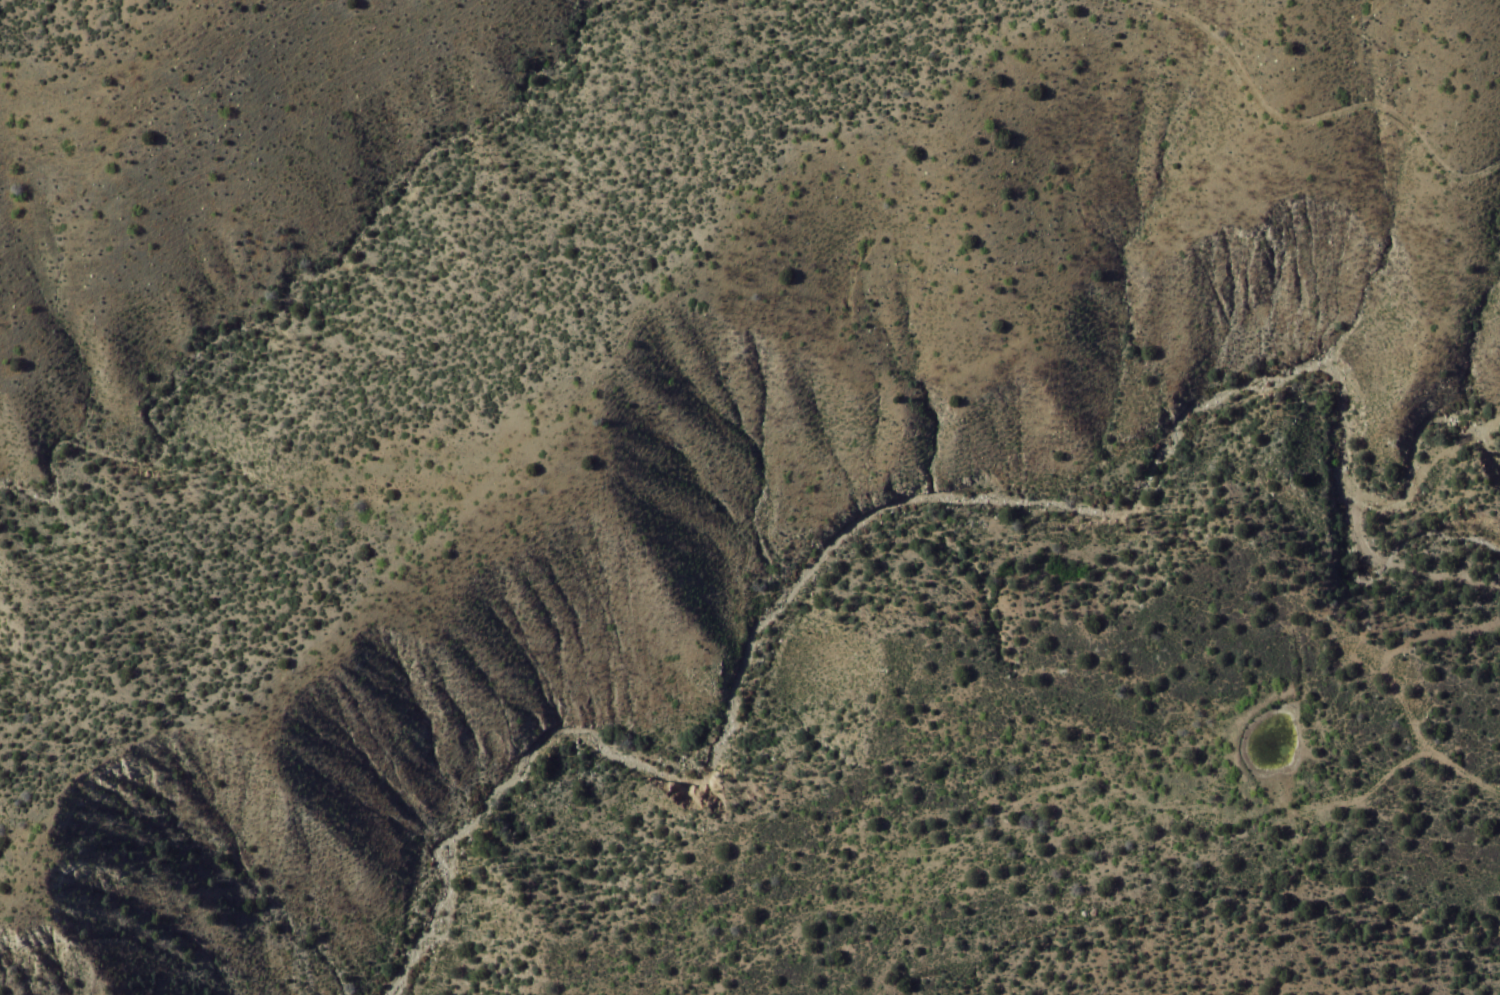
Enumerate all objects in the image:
road: (1497, 494)
road: (1436, 651)

